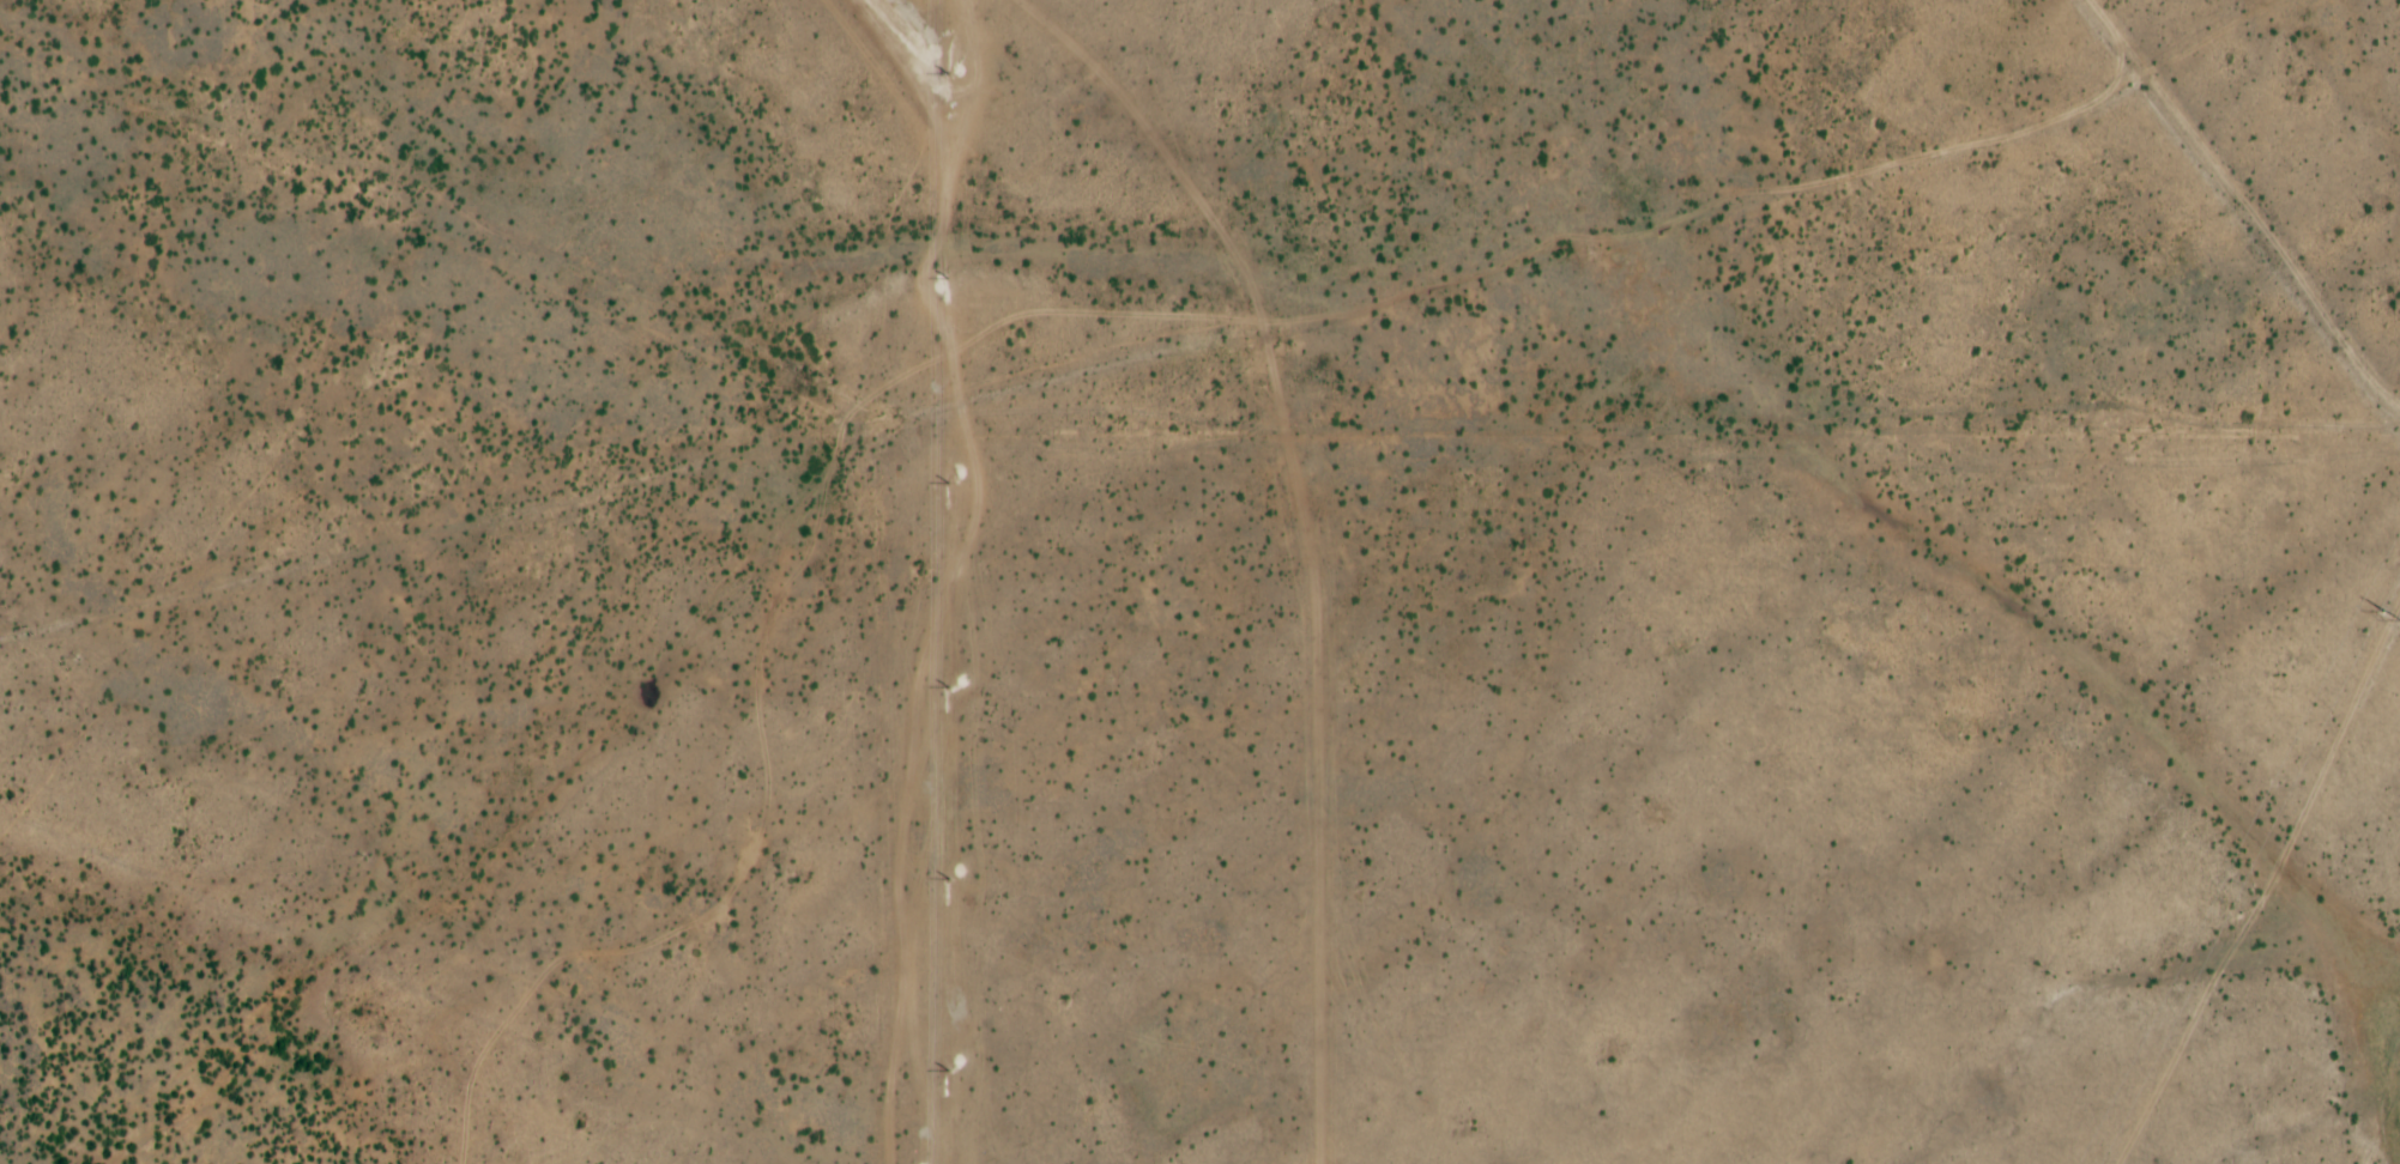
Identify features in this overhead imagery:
power tower: (2390, 612)

